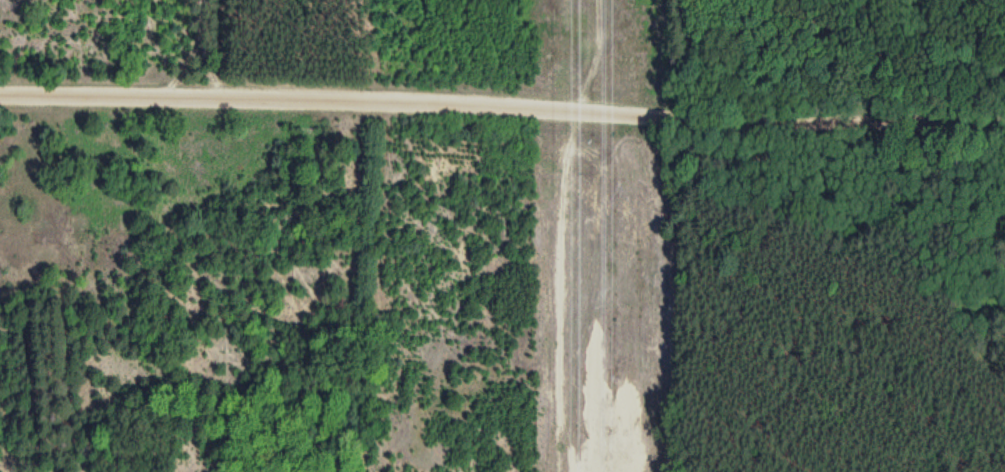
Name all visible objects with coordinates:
road: (936, 54)
road: (502, 102)

